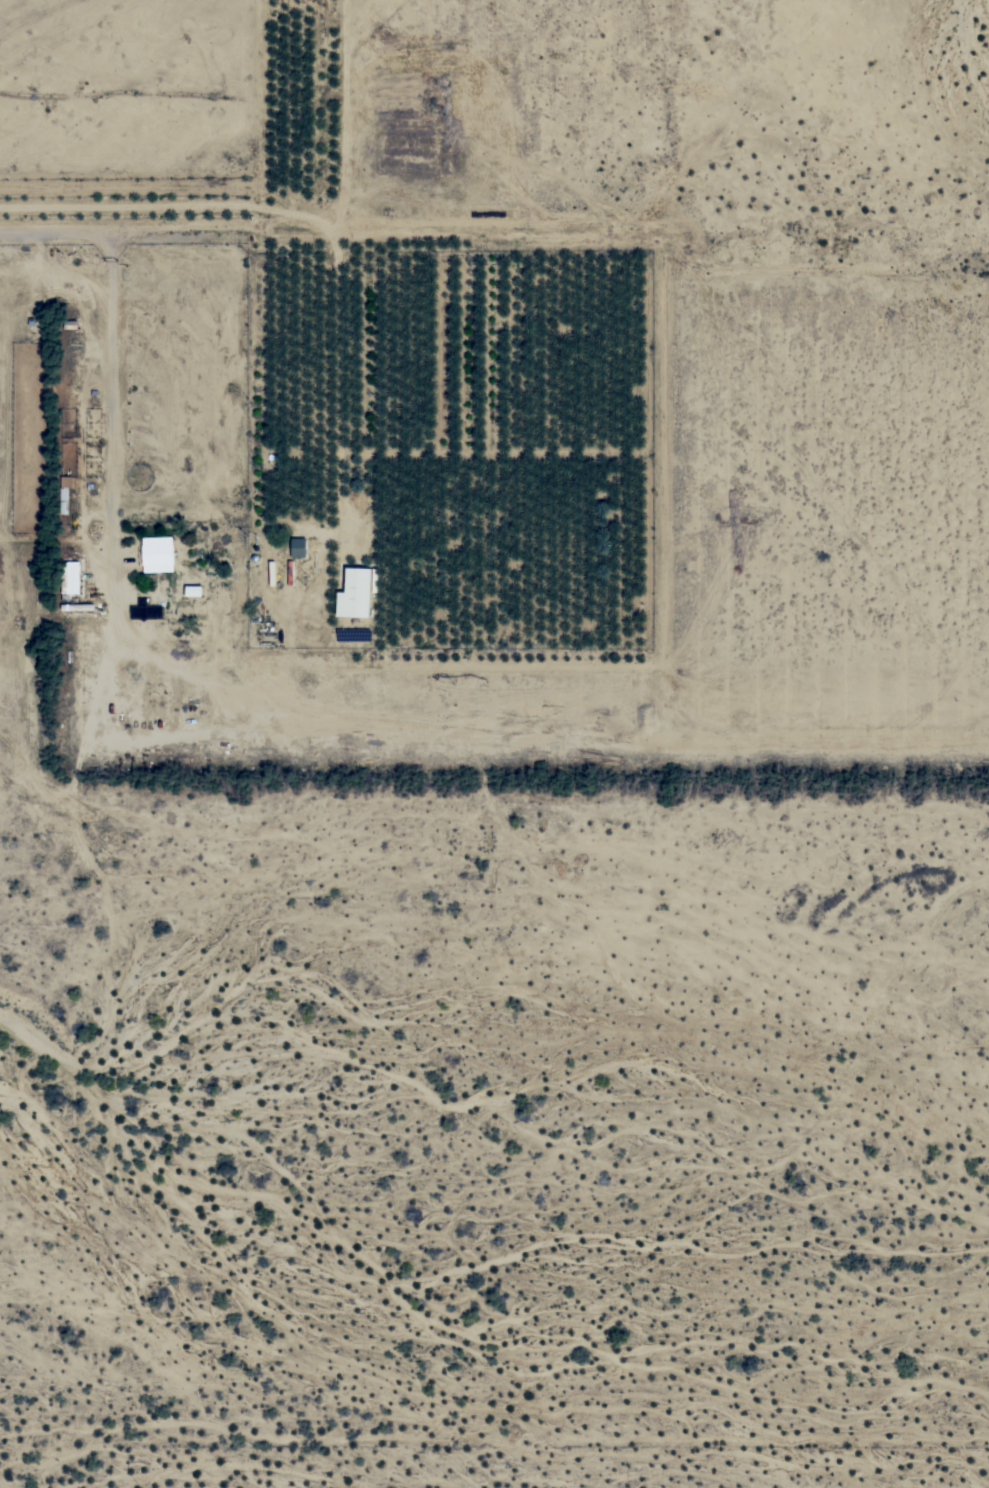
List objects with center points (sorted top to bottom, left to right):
building: (157, 554)
building: (70, 577)
building: (353, 592)

